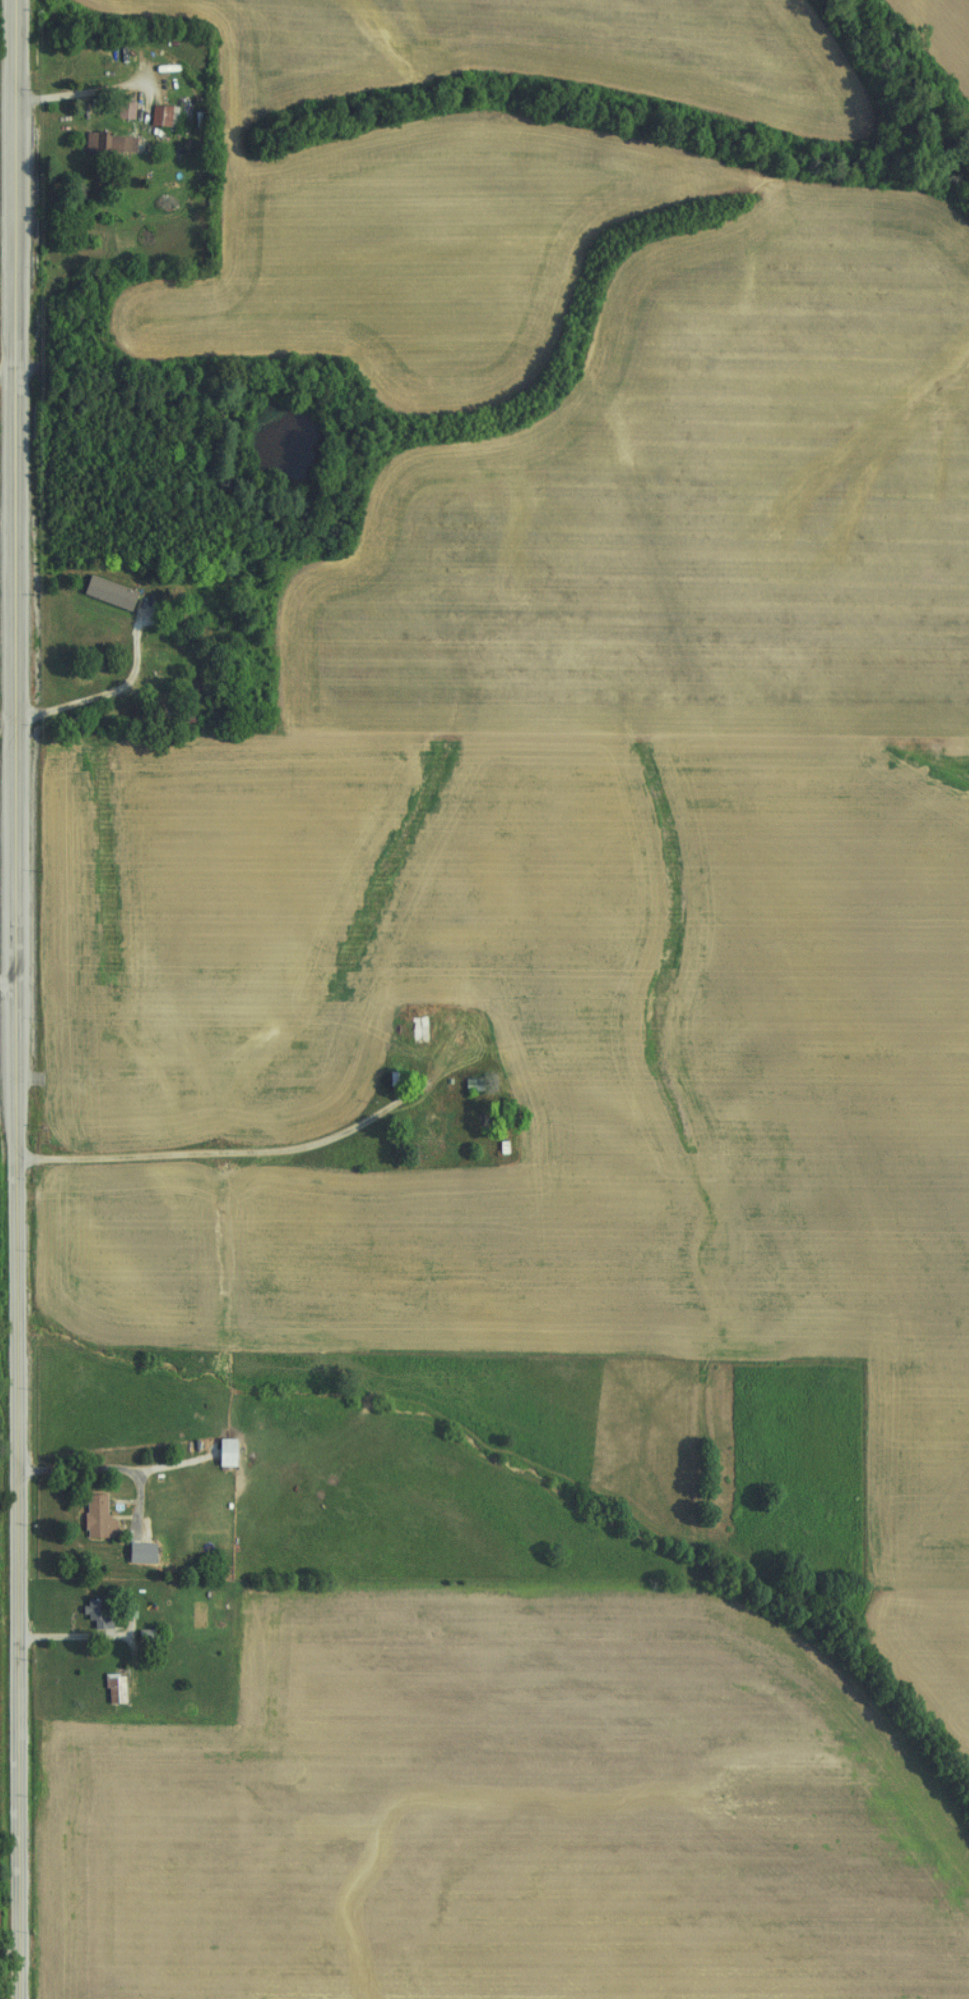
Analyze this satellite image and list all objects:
road: (76, 96)
building: (125, 112)
building: (159, 118)
building: (105, 145)
road: (6, 373)
road: (7, 723)
road: (15, 999)
building: (424, 1131)
road: (233, 1157)
building: (221, 1453)
building: (93, 1519)
road: (137, 1549)
building: (92, 1611)
building: (143, 1636)
building: (109, 1690)
road: (9, 1951)

